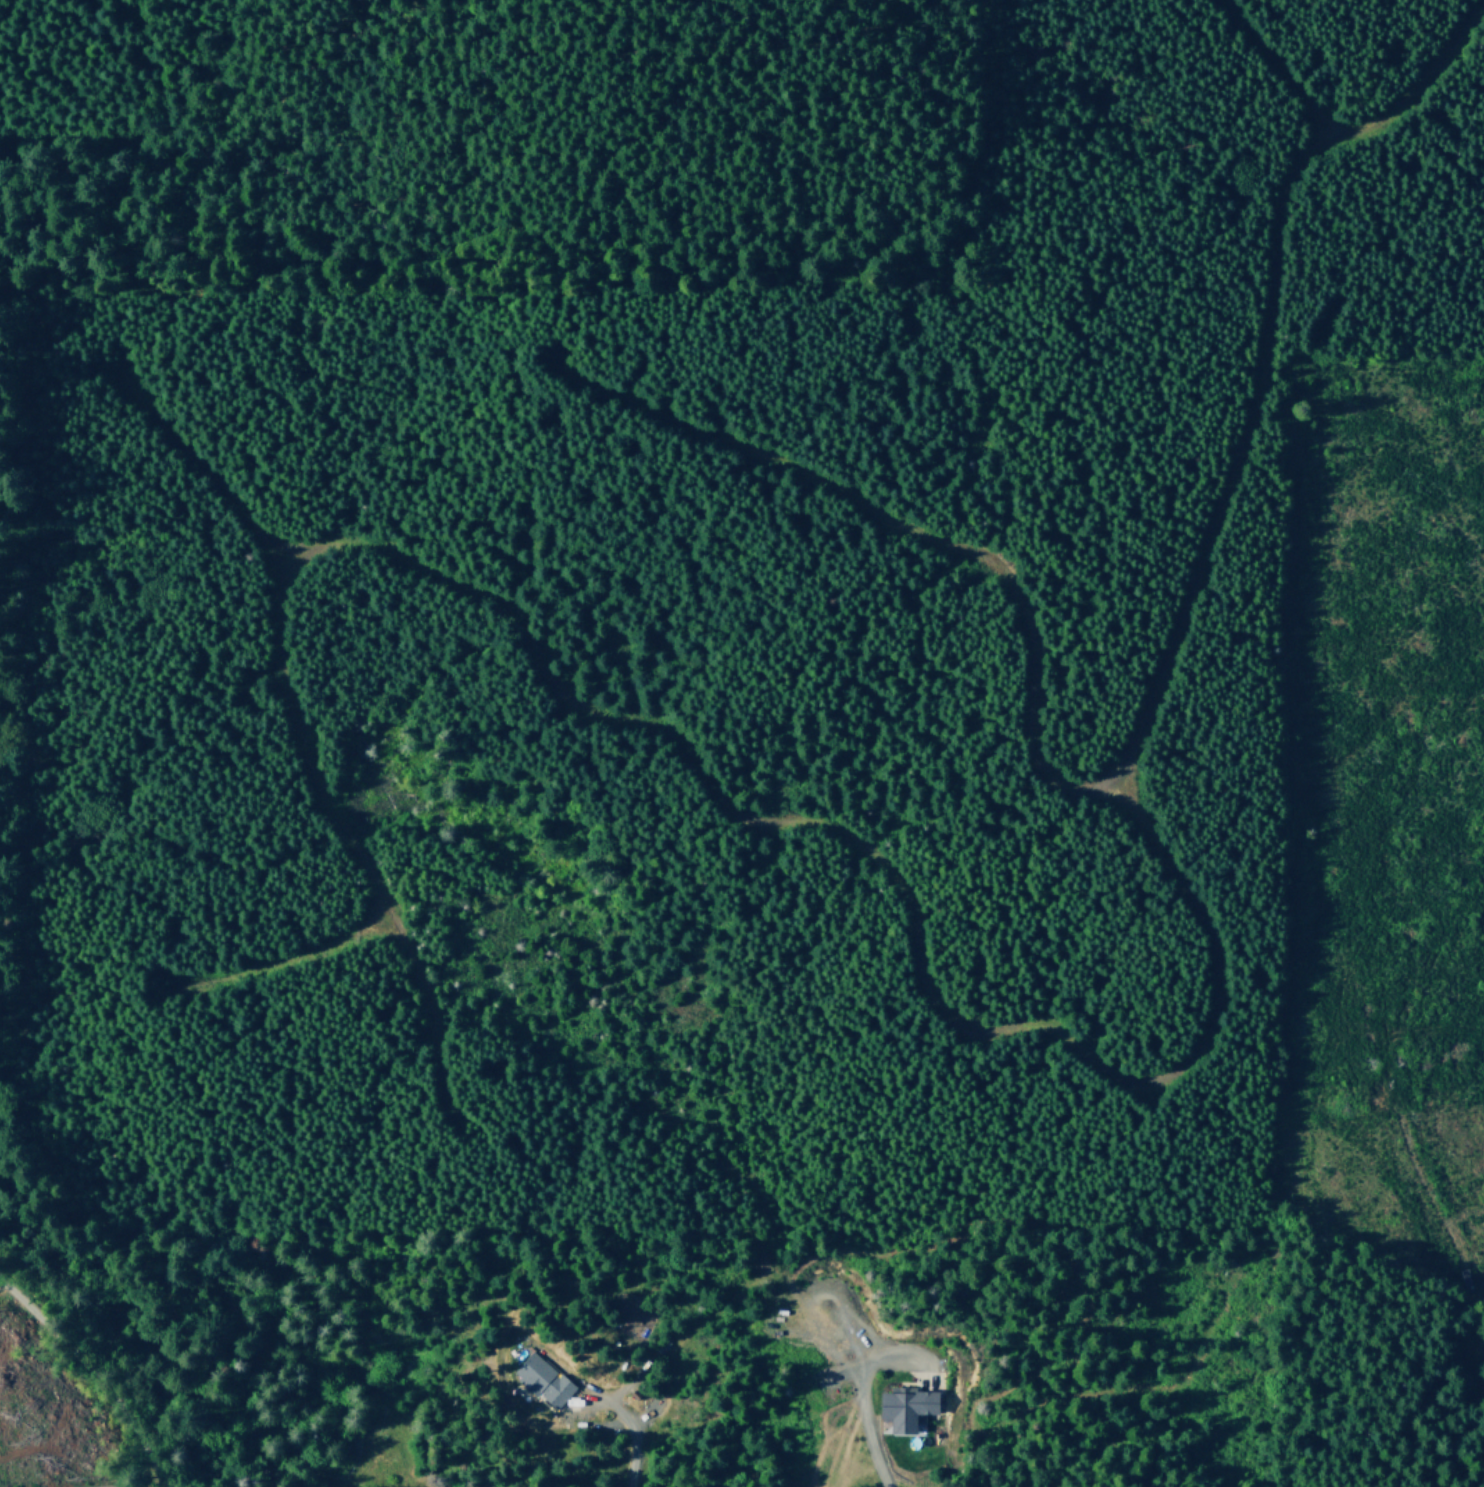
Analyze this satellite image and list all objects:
building: (542, 1379)
building: (909, 1409)
road: (19, 1469)

